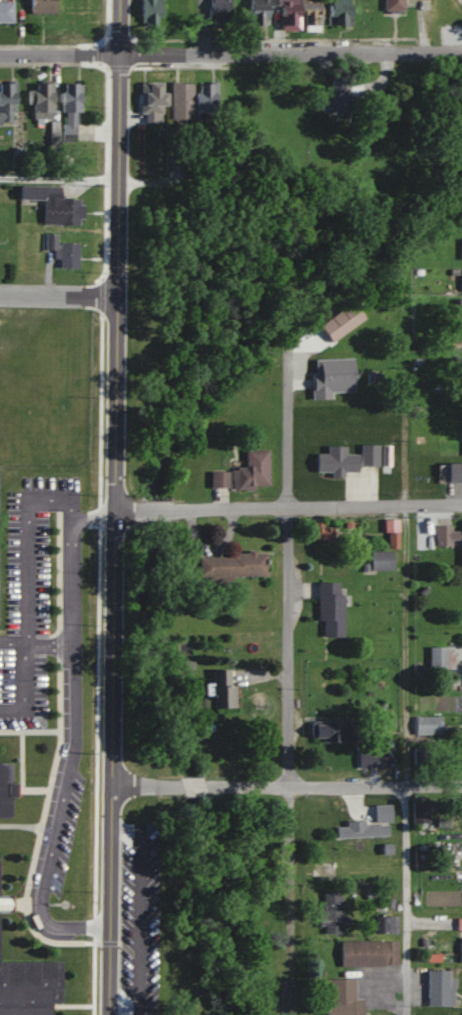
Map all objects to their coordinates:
building: (391, 4)
building: (40, 6)
building: (259, 9)
building: (5, 11)
building: (149, 12)
building: (211, 12)
building: (336, 12)
building: (287, 14)
building: (310, 15)
road: (119, 27)
road: (230, 54)
building: (337, 94)
building: (41, 100)
building: (203, 100)
building: (179, 101)
building: (149, 102)
building: (5, 103)
building: (68, 108)
road: (58, 178)
building: (51, 204)
building: (461, 222)
building: (460, 247)
building: (63, 253)
road: (58, 296)
building: (458, 308)
building: (340, 321)
building: (330, 377)
road: (296, 417)
building: (345, 459)
building: (251, 471)
building: (452, 473)
building: (218, 480)
road: (316, 504)
road: (127, 508)
road: (155, 508)
road: (115, 534)
building: (319, 535)
building: (449, 541)
building: (379, 560)
building: (234, 565)
building: (329, 609)
building: (438, 658)
building: (221, 689)
road: (74, 712)
building: (426, 725)
building: (330, 731)
road: (289, 753)
building: (373, 757)
road: (404, 759)
road: (287, 785)
building: (4, 790)
building: (418, 812)
building: (381, 813)
building: (360, 831)
building: (252, 839)
building: (322, 870)
building: (3, 903)
building: (330, 912)
road: (84, 932)
building: (460, 951)
building: (367, 952)
building: (439, 984)
building: (28, 987)
building: (339, 997)

